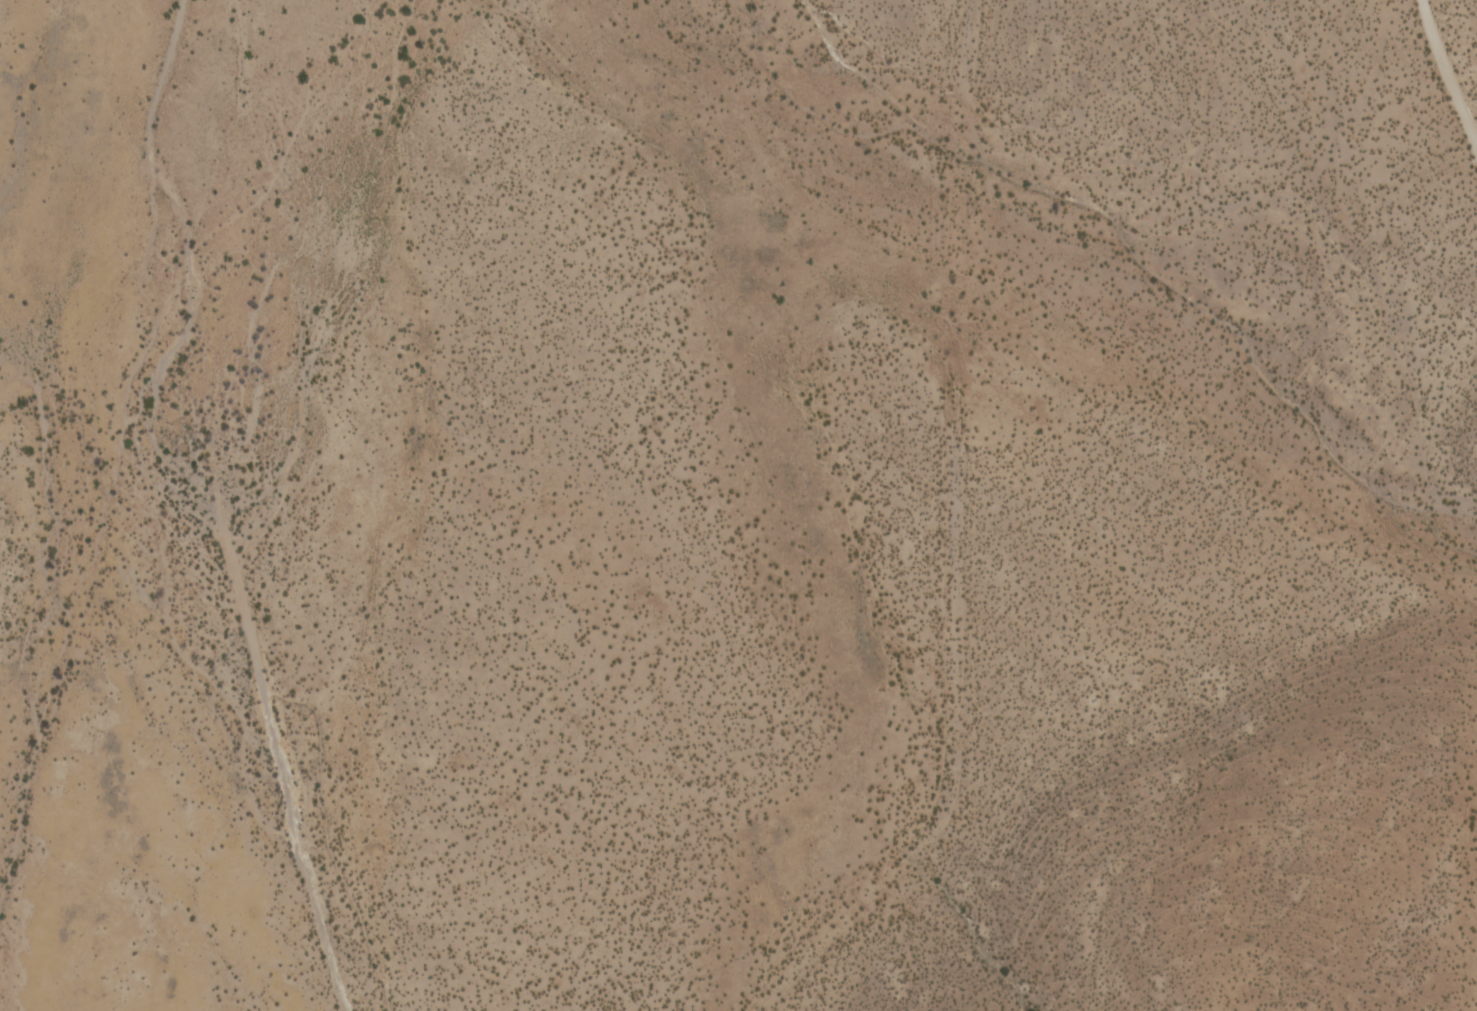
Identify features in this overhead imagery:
road: (1445, 78)

